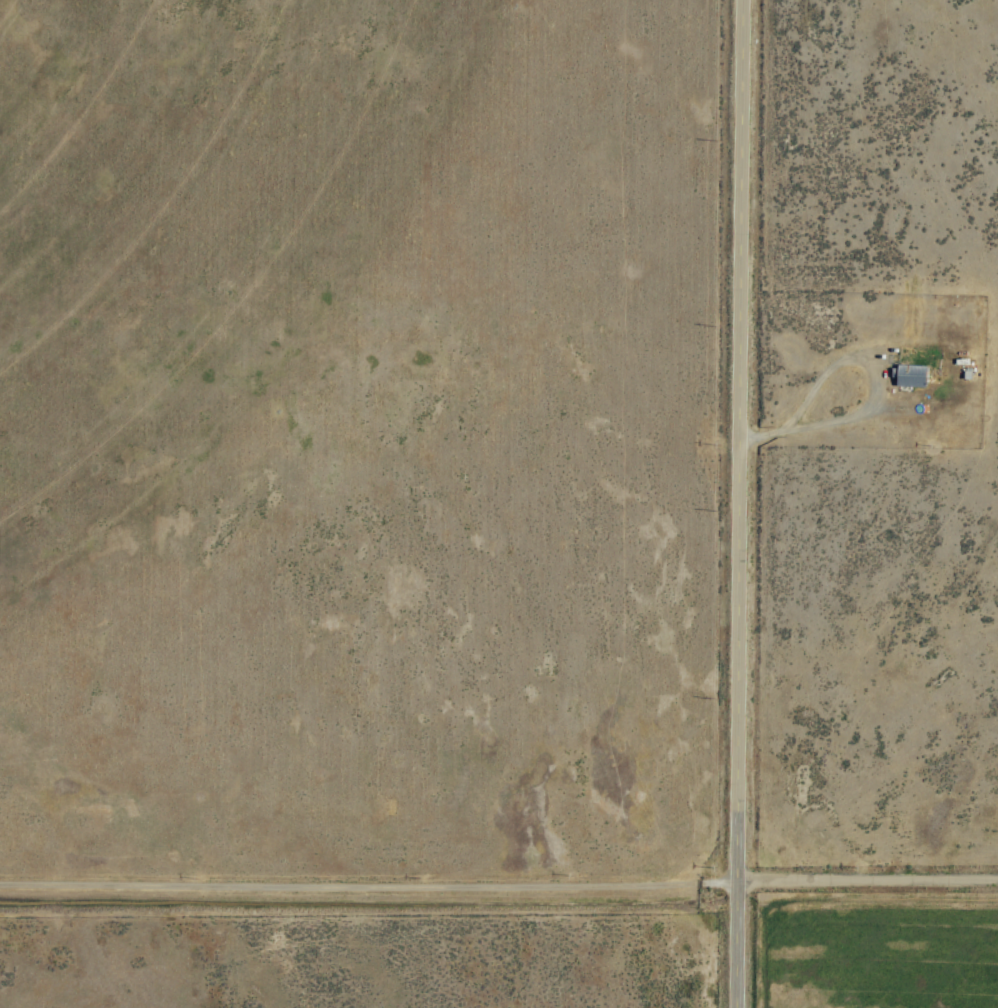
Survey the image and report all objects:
road: (735, 503)
crop: (499, 504)
road: (865, 880)
road: (366, 887)

